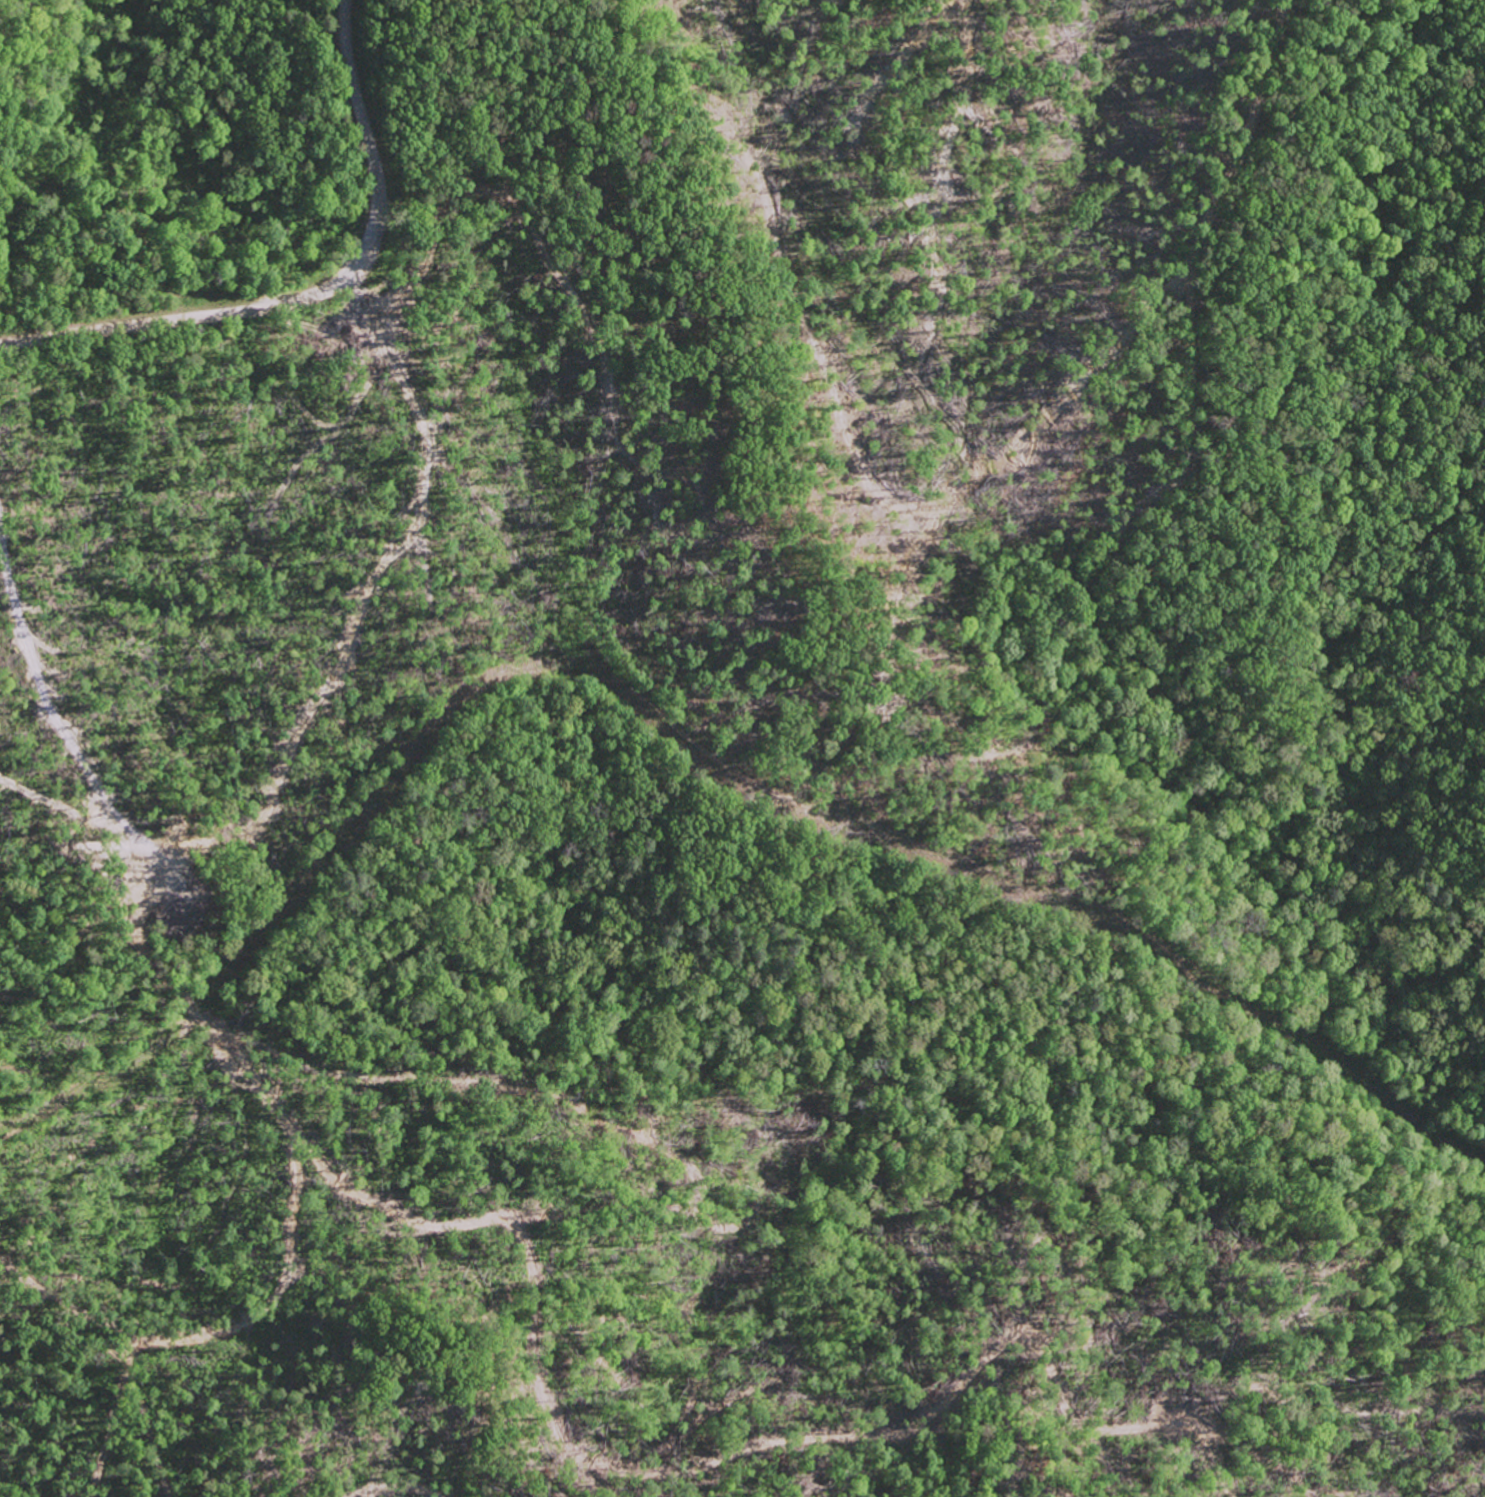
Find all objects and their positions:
road: (317, 292)

